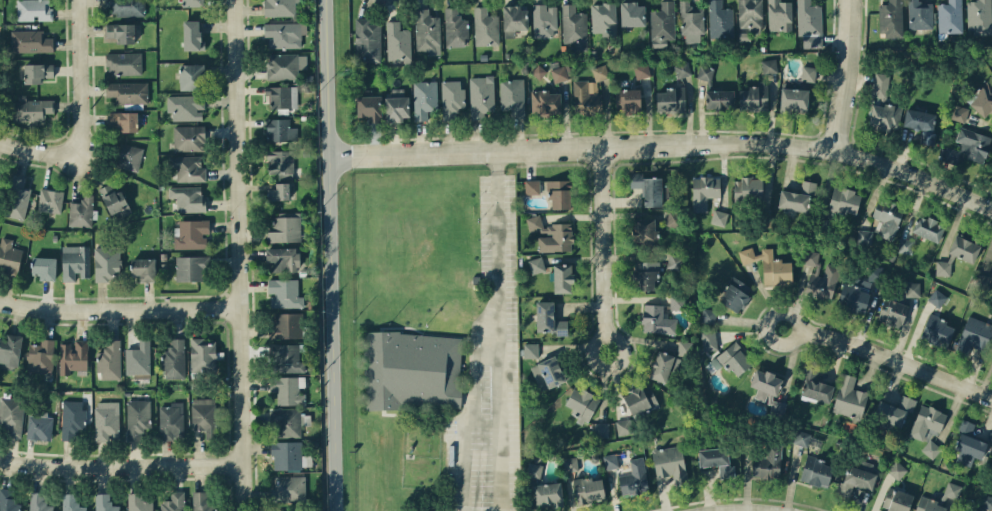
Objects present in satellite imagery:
building: (192, 3)
building: (124, 7)
building: (280, 7)
building: (34, 10)
building: (632, 14)
building: (750, 14)
building: (920, 14)
building: (779, 15)
building: (950, 16)
building: (979, 16)
building: (890, 18)
building: (514, 19)
building: (544, 20)
building: (720, 20)
building: (691, 22)
building: (809, 23)
building: (662, 24)
building: (574, 26)
building: (485, 27)
building: (455, 28)
building: (120, 32)
building: (427, 32)
building: (284, 34)
building: (192, 35)
building: (367, 40)
building: (30, 41)
building: (397, 41)
building: (123, 63)
building: (285, 65)
building: (769, 65)
building: (682, 69)
building: (641, 70)
building: (38, 72)
building: (599, 72)
building: (705, 72)
building: (559, 73)
building: (808, 73)
road: (853, 75)
road: (79, 76)
building: (191, 76)
building: (128, 92)
building: (282, 96)
building: (512, 96)
building: (753, 96)
building: (586, 97)
building: (424, 98)
building: (452, 98)
building: (481, 98)
building: (671, 99)
building: (719, 99)
building: (794, 99)
building: (982, 99)
building: (628, 101)
building: (545, 102)
building: (397, 105)
building: (185, 106)
building: (369, 107)
building: (31, 108)
building: (959, 113)
building: (884, 116)
building: (124, 120)
building: (921, 124)
building: (280, 129)
building: (188, 138)
road: (665, 143)
building: (974, 144)
road: (39, 151)
building: (129, 157)
building: (280, 163)
building: (189, 168)
building: (532, 186)
building: (648, 188)
building: (748, 189)
building: (279, 191)
building: (704, 191)
building: (560, 194)
building: (797, 196)
building: (18, 198)
building: (188, 198)
building: (50, 200)
building: (844, 200)
building: (115, 201)
building: (81, 211)
building: (719, 217)
building: (887, 217)
building: (674, 219)
building: (534, 222)
building: (285, 227)
building: (928, 228)
building: (645, 232)
building: (191, 233)
building: (864, 237)
building: (557, 238)
building: (905, 245)
building: (963, 248)
road: (238, 255)
road: (331, 255)
road: (607, 255)
building: (9, 256)
building: (810, 257)
building: (283, 259)
building: (674, 261)
building: (75, 262)
building: (107, 263)
building: (536, 264)
building: (769, 265)
building: (991, 266)
building: (44, 267)
building: (943, 267)
building: (189, 268)
building: (144, 269)
building: (646, 274)
building: (562, 278)
building: (983, 281)
building: (822, 282)
building: (912, 289)
building: (284, 293)
building: (735, 294)
building: (854, 295)
building: (937, 297)
building: (675, 302)
road: (119, 308)
building: (892, 312)
building: (708, 315)
building: (549, 319)
building: (656, 319)
building: (286, 325)
road: (497, 330)
building: (937, 331)
building: (974, 335)
building: (708, 339)
building: (684, 347)
building: (530, 350)
building: (10, 351)
building: (203, 355)
road: (883, 355)
building: (41, 356)
building: (73, 356)
building: (138, 358)
building: (286, 358)
building: (174, 359)
building: (733, 359)
building: (109, 360)
building: (662, 366)
building: (412, 370)
building: (547, 373)
building: (765, 383)
building: (816, 387)
building: (288, 389)
building: (849, 397)
building: (640, 399)
building: (582, 404)
building: (777, 406)
building: (894, 410)
building: (203, 414)
building: (11, 415)
building: (137, 418)
building: (72, 420)
building: (107, 420)
building: (171, 420)
building: (285, 422)
building: (927, 422)
building: (39, 426)
building: (623, 426)
building: (601, 429)
building: (801, 437)
building: (968, 444)
building: (930, 448)
building: (991, 454)
building: (287, 455)
building: (611, 460)
building: (716, 460)
building: (570, 463)
building: (670, 463)
building: (768, 463)
road: (120, 466)
building: (533, 470)
building: (896, 470)
building: (816, 471)
building: (634, 477)
building: (289, 488)
building: (588, 489)
building: (952, 490)
building: (548, 495)
building: (7, 500)
building: (897, 500)
building: (38, 502)
building: (70, 502)
building: (104, 502)
building: (140, 502)
building: (174, 502)
building: (202, 502)
building: (987, 502)
building: (929, 505)
road: (751, 508)
building: (286, 510)

